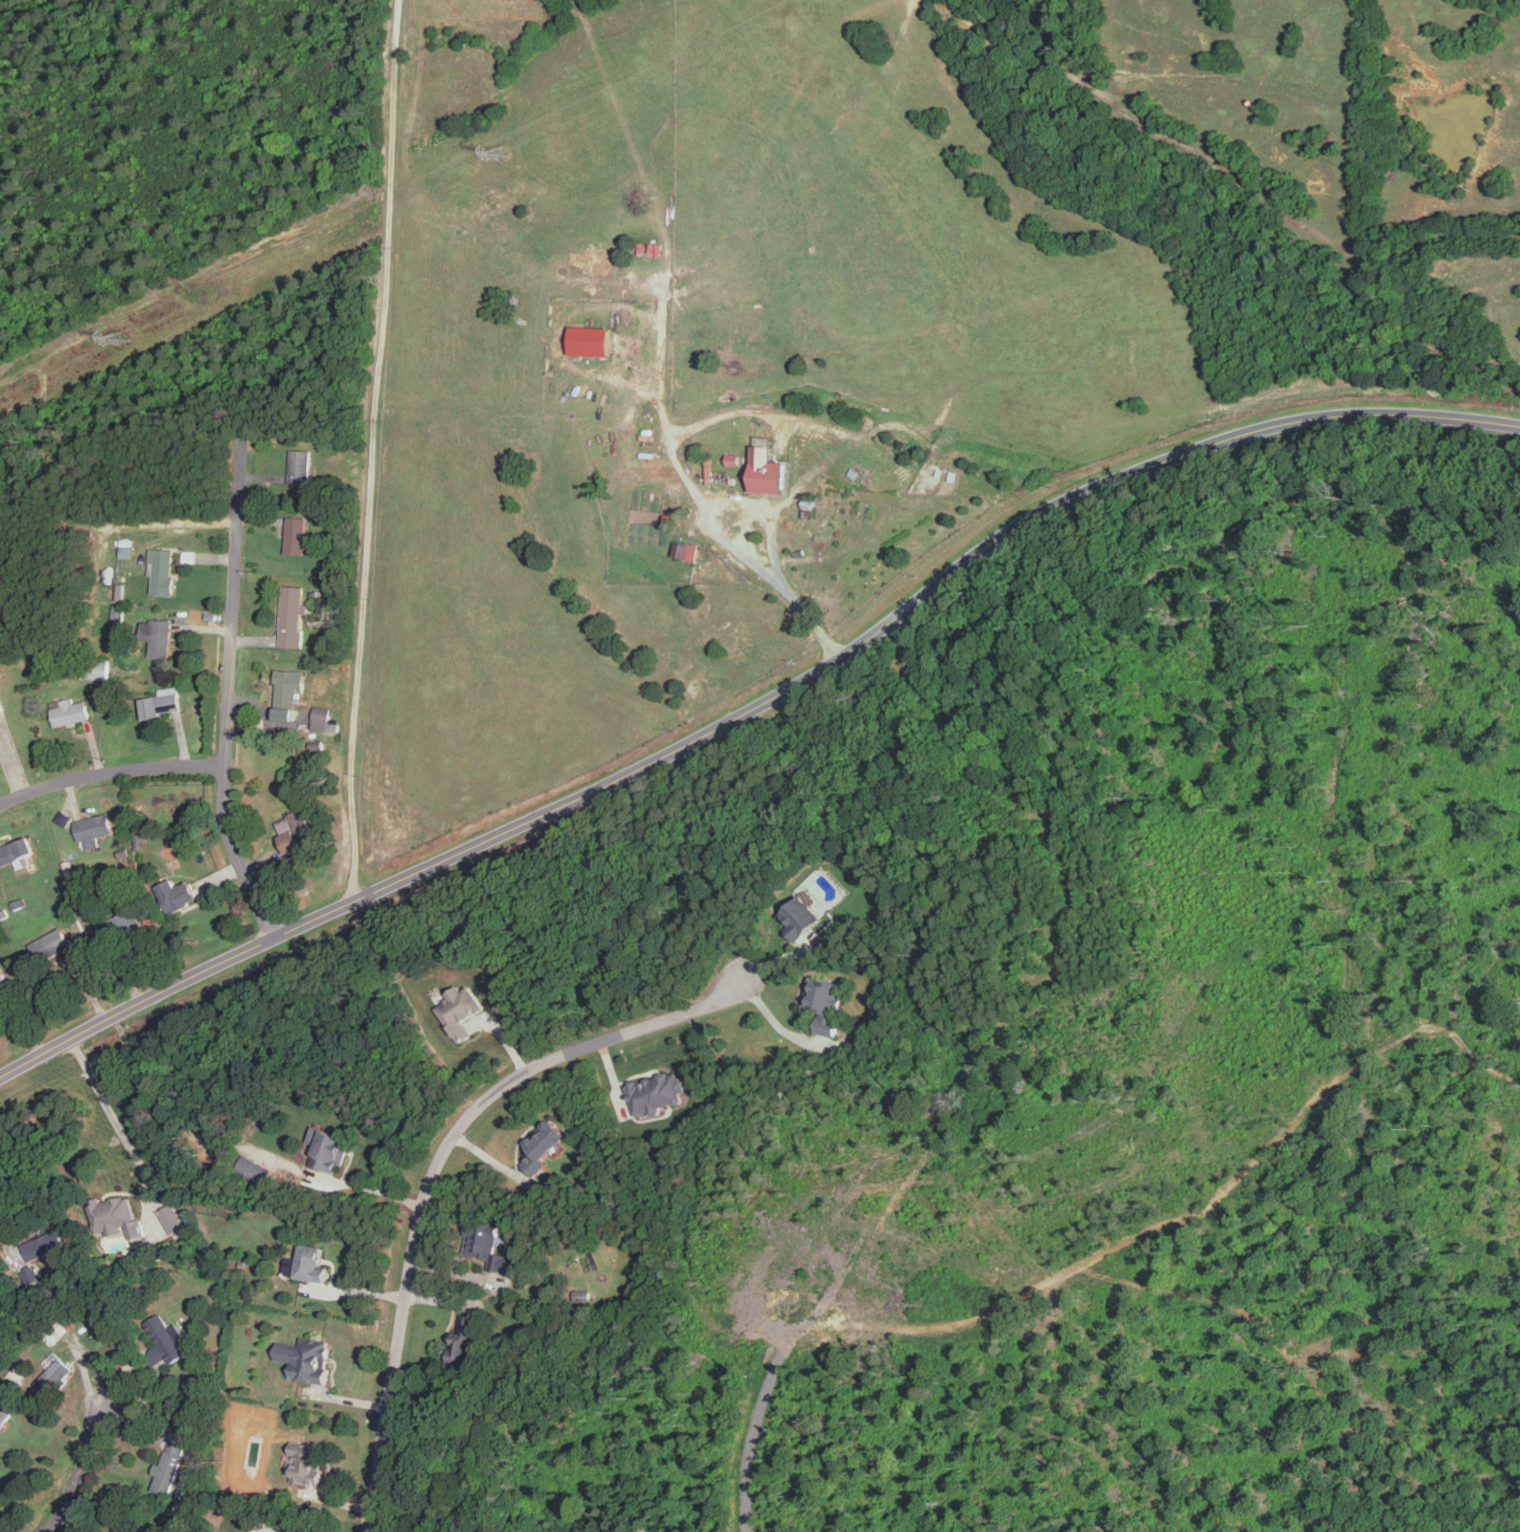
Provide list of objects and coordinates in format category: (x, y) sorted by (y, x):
power tower: (499, 152)
power tower: (126, 337)
building: (593, 339)
road: (370, 451)
building: (733, 458)
building: (300, 465)
building: (770, 470)
building: (296, 534)
building: (126, 547)
building: (687, 549)
road: (983, 549)
road: (746, 553)
building: (189, 555)
building: (162, 569)
building: (119, 590)
building: (118, 612)
building: (292, 615)
building: (161, 637)
building: (289, 686)
road: (226, 695)
building: (162, 702)
building: (1, 704)
building: (71, 711)
building: (322, 717)
road: (109, 771)
building: (93, 829)
building: (295, 831)
building: (16, 850)
building: (178, 894)
road: (349, 902)
building: (803, 917)
building: (50, 943)
building: (3, 981)
building: (828, 1003)
building: (461, 1011)
road: (100, 1024)
building: (657, 1092)
road: (116, 1123)
road: (236, 1146)
building: (545, 1146)
building: (329, 1148)
road: (436, 1166)
building: (253, 1169)
building: (117, 1217)
building: (172, 1218)
building: (43, 1244)
road: (8, 1246)
building: (492, 1249)
building: (314, 1263)
building: (168, 1339)
building: (465, 1339)
building: (308, 1358)
building: (56, 1375)
building: (4, 1415)
road: (755, 1433)
building: (306, 1463)
road: (81, 1466)
building: (168, 1468)
road: (271, 1531)

